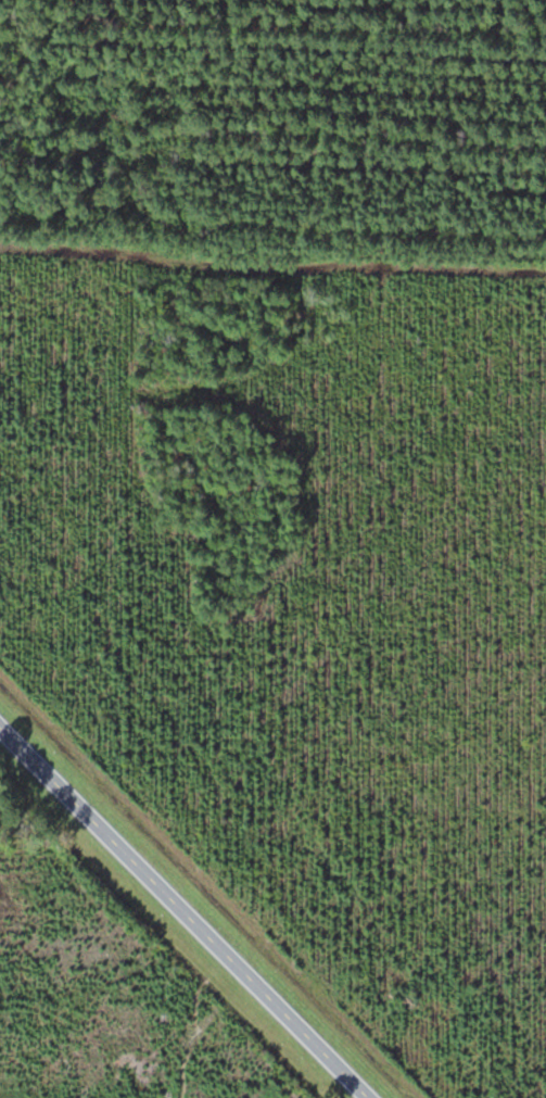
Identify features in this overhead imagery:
road: (185, 912)

